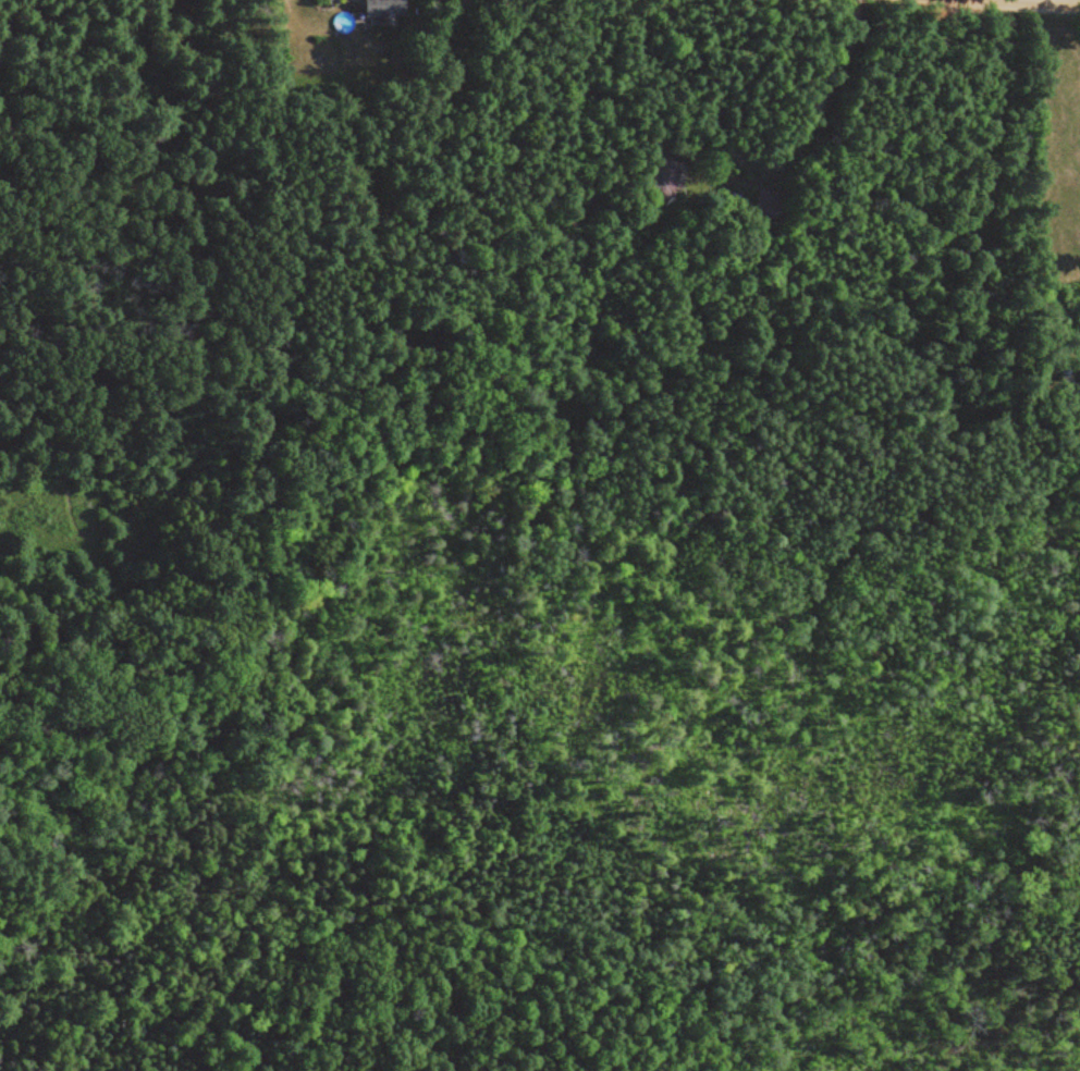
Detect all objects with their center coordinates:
road: (1027, 4)
building: (386, 11)
building: (666, 178)
building: (766, 199)

